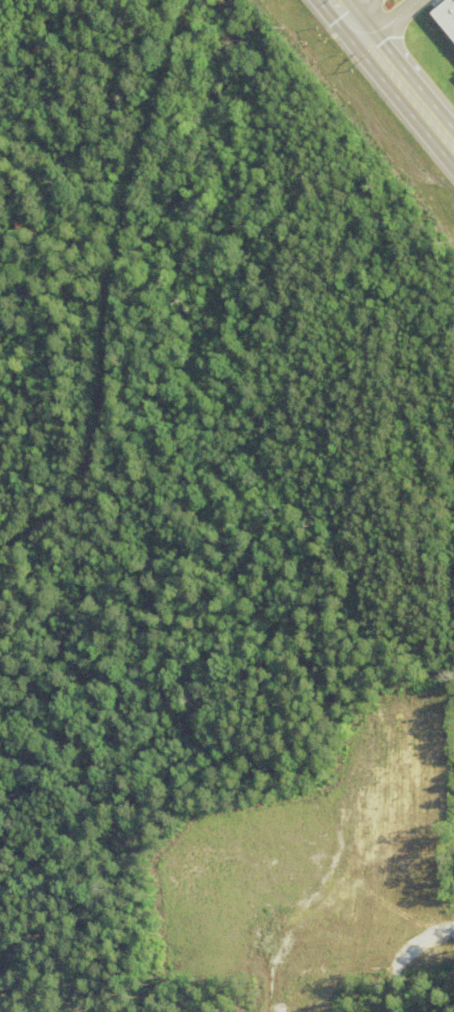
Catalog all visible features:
road: (367, 14)
building: (445, 17)
road: (387, 20)
traffic signals: (357, 31)
road: (392, 74)

